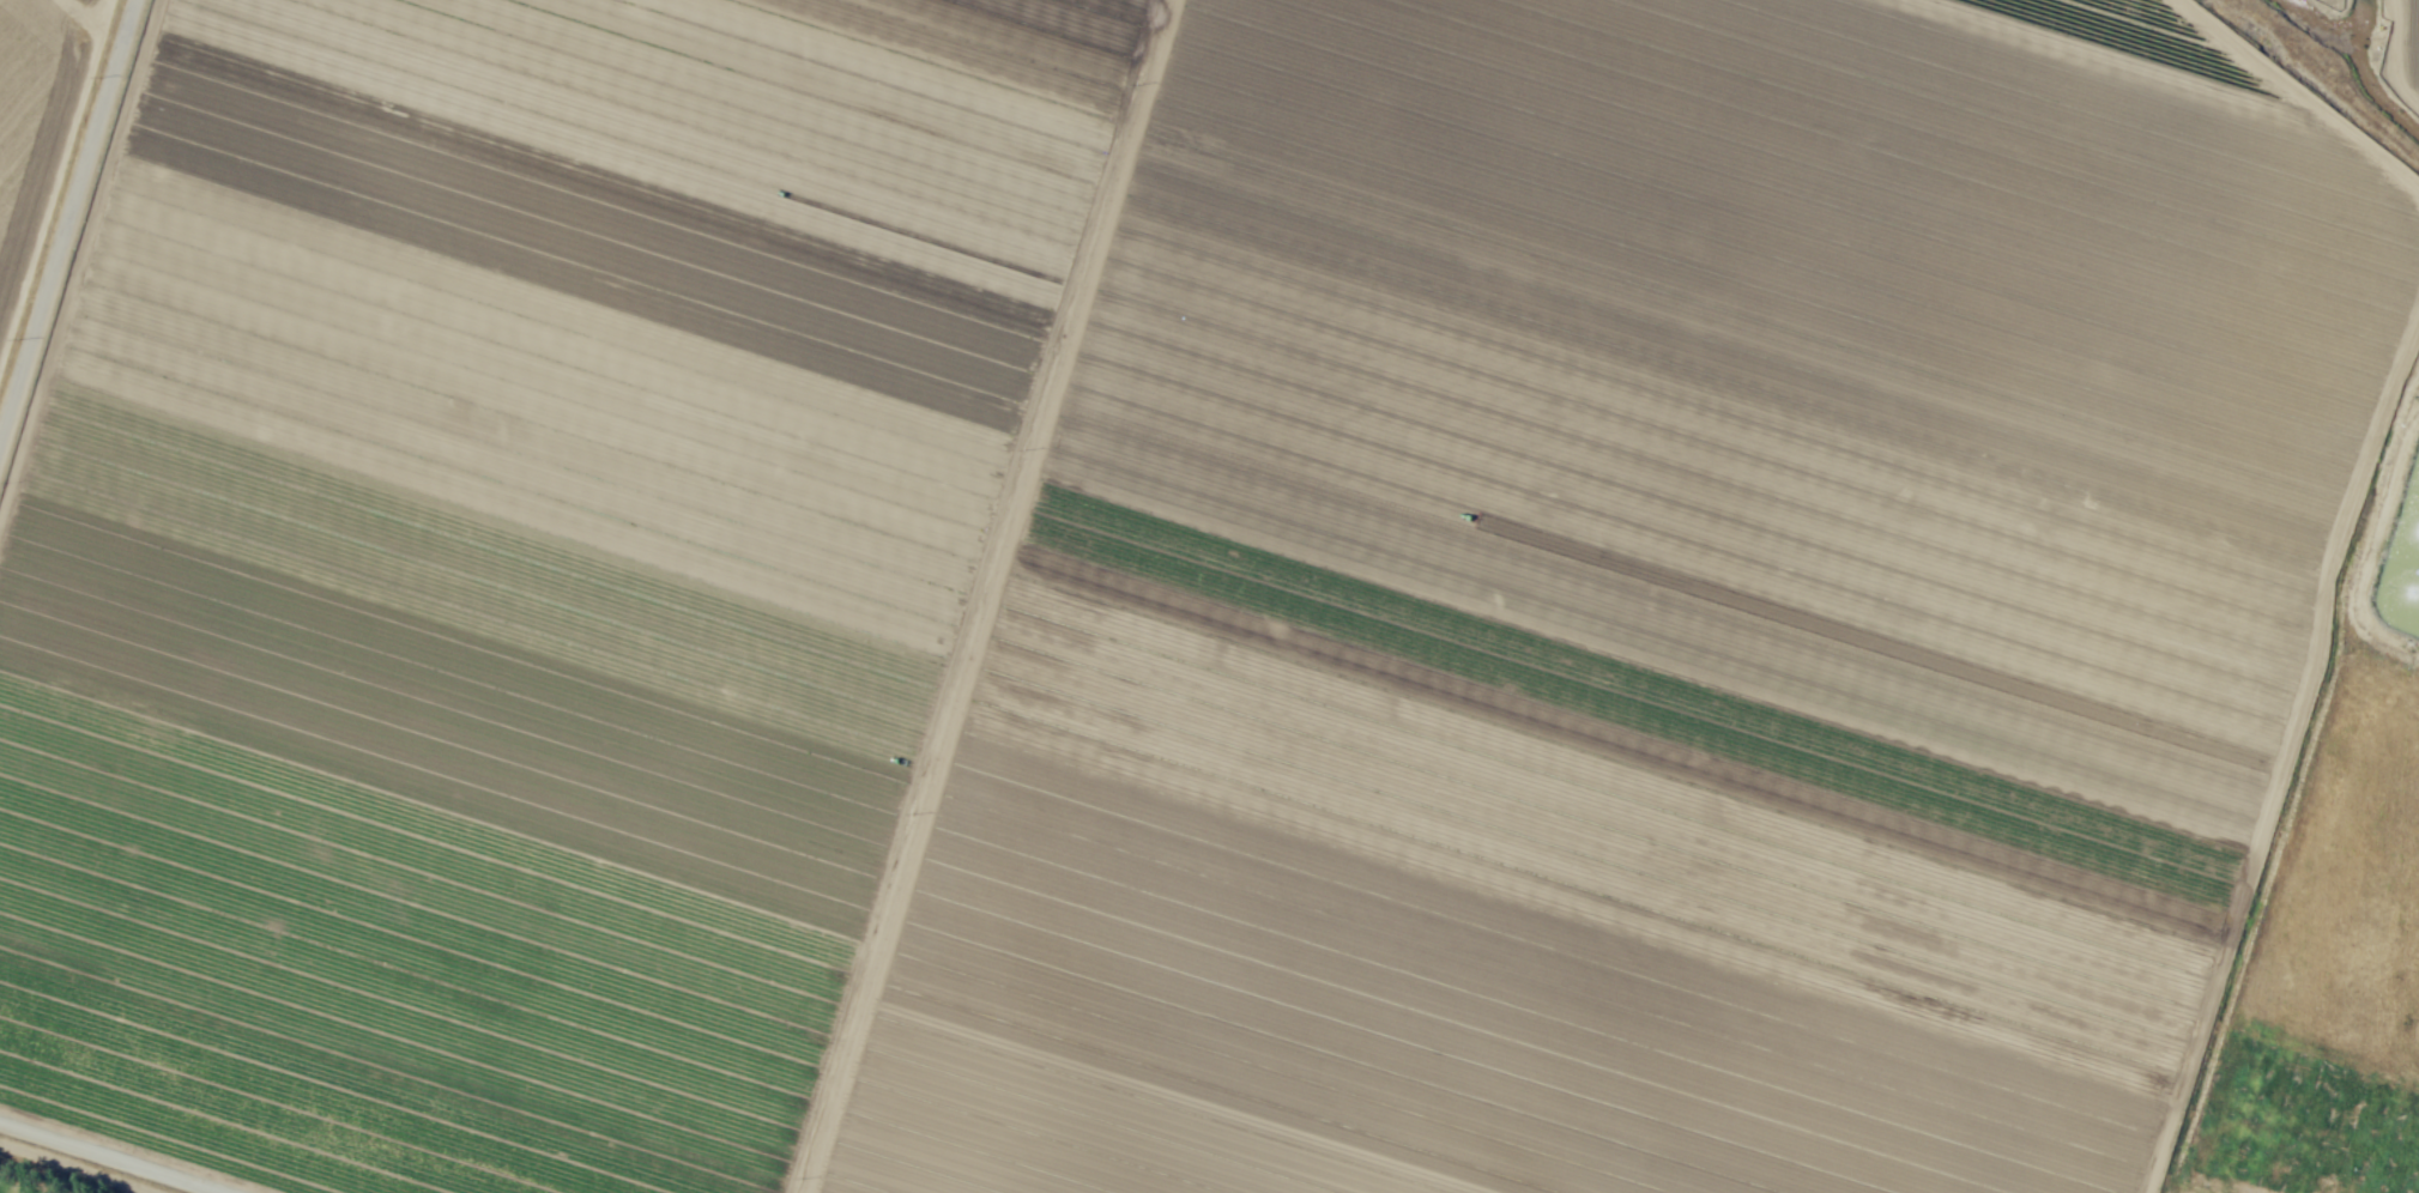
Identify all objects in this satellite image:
road: (90, 24)
road: (52, 168)
road: (67, 222)
crop: (1212, 594)
road: (984, 596)
road: (102, 1159)
road: (2169, 1187)

